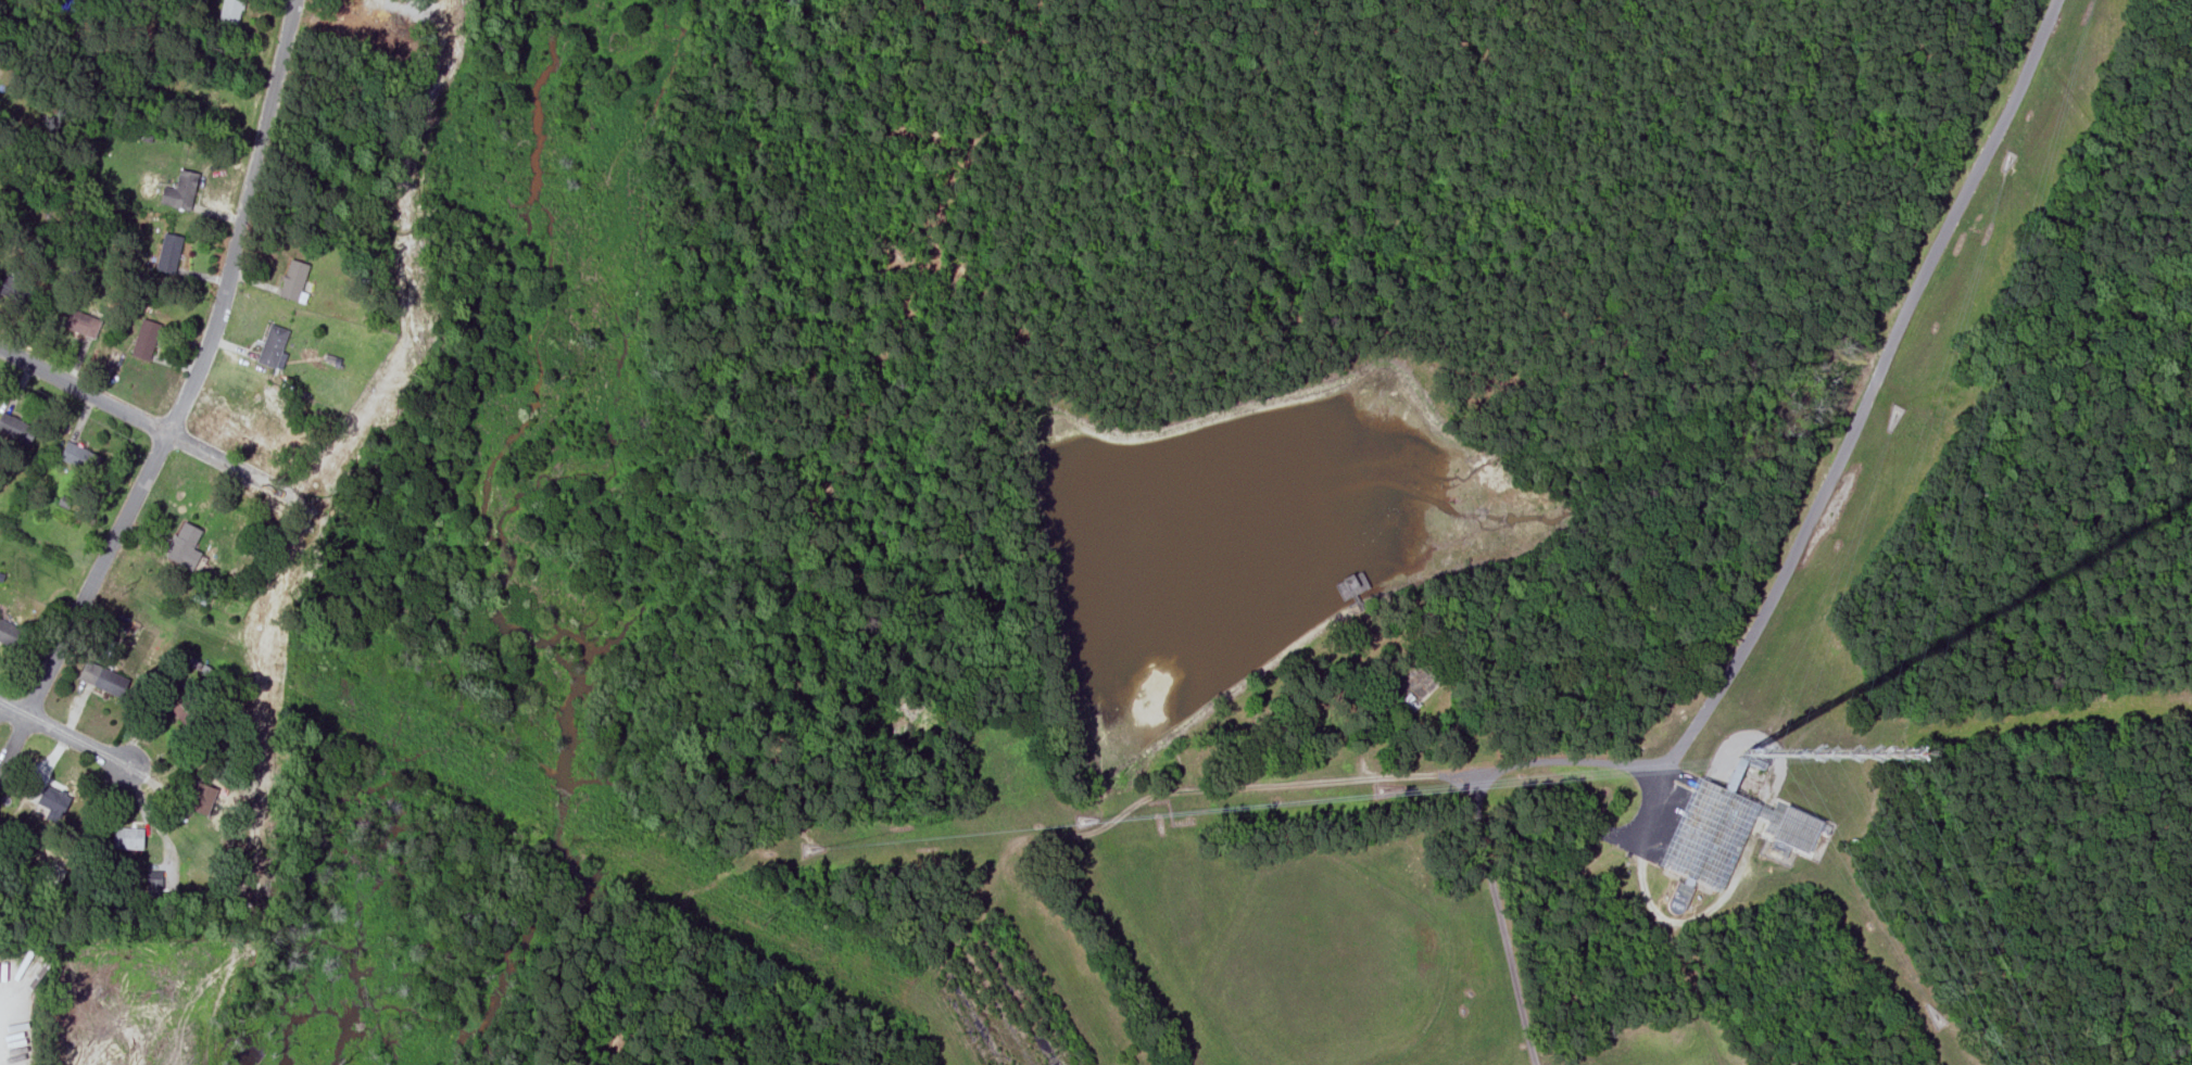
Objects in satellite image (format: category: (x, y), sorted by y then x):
building: (229, 11)
building: (179, 191)
building: (167, 253)
building: (292, 279)
building: (77, 321)
building: (143, 339)
building: (270, 345)
road: (194, 371)
road: (149, 426)
building: (15, 429)
building: (80, 457)
building: (182, 546)
power tower: (121, 591)
road: (1763, 609)
building: (9, 633)
building: (101, 680)
building: (185, 712)
road: (63, 735)
road: (12, 741)
building: (201, 798)
building: (54, 801)
building: (126, 837)
building: (1698, 859)
building: (154, 882)
power tower: (761, 918)

